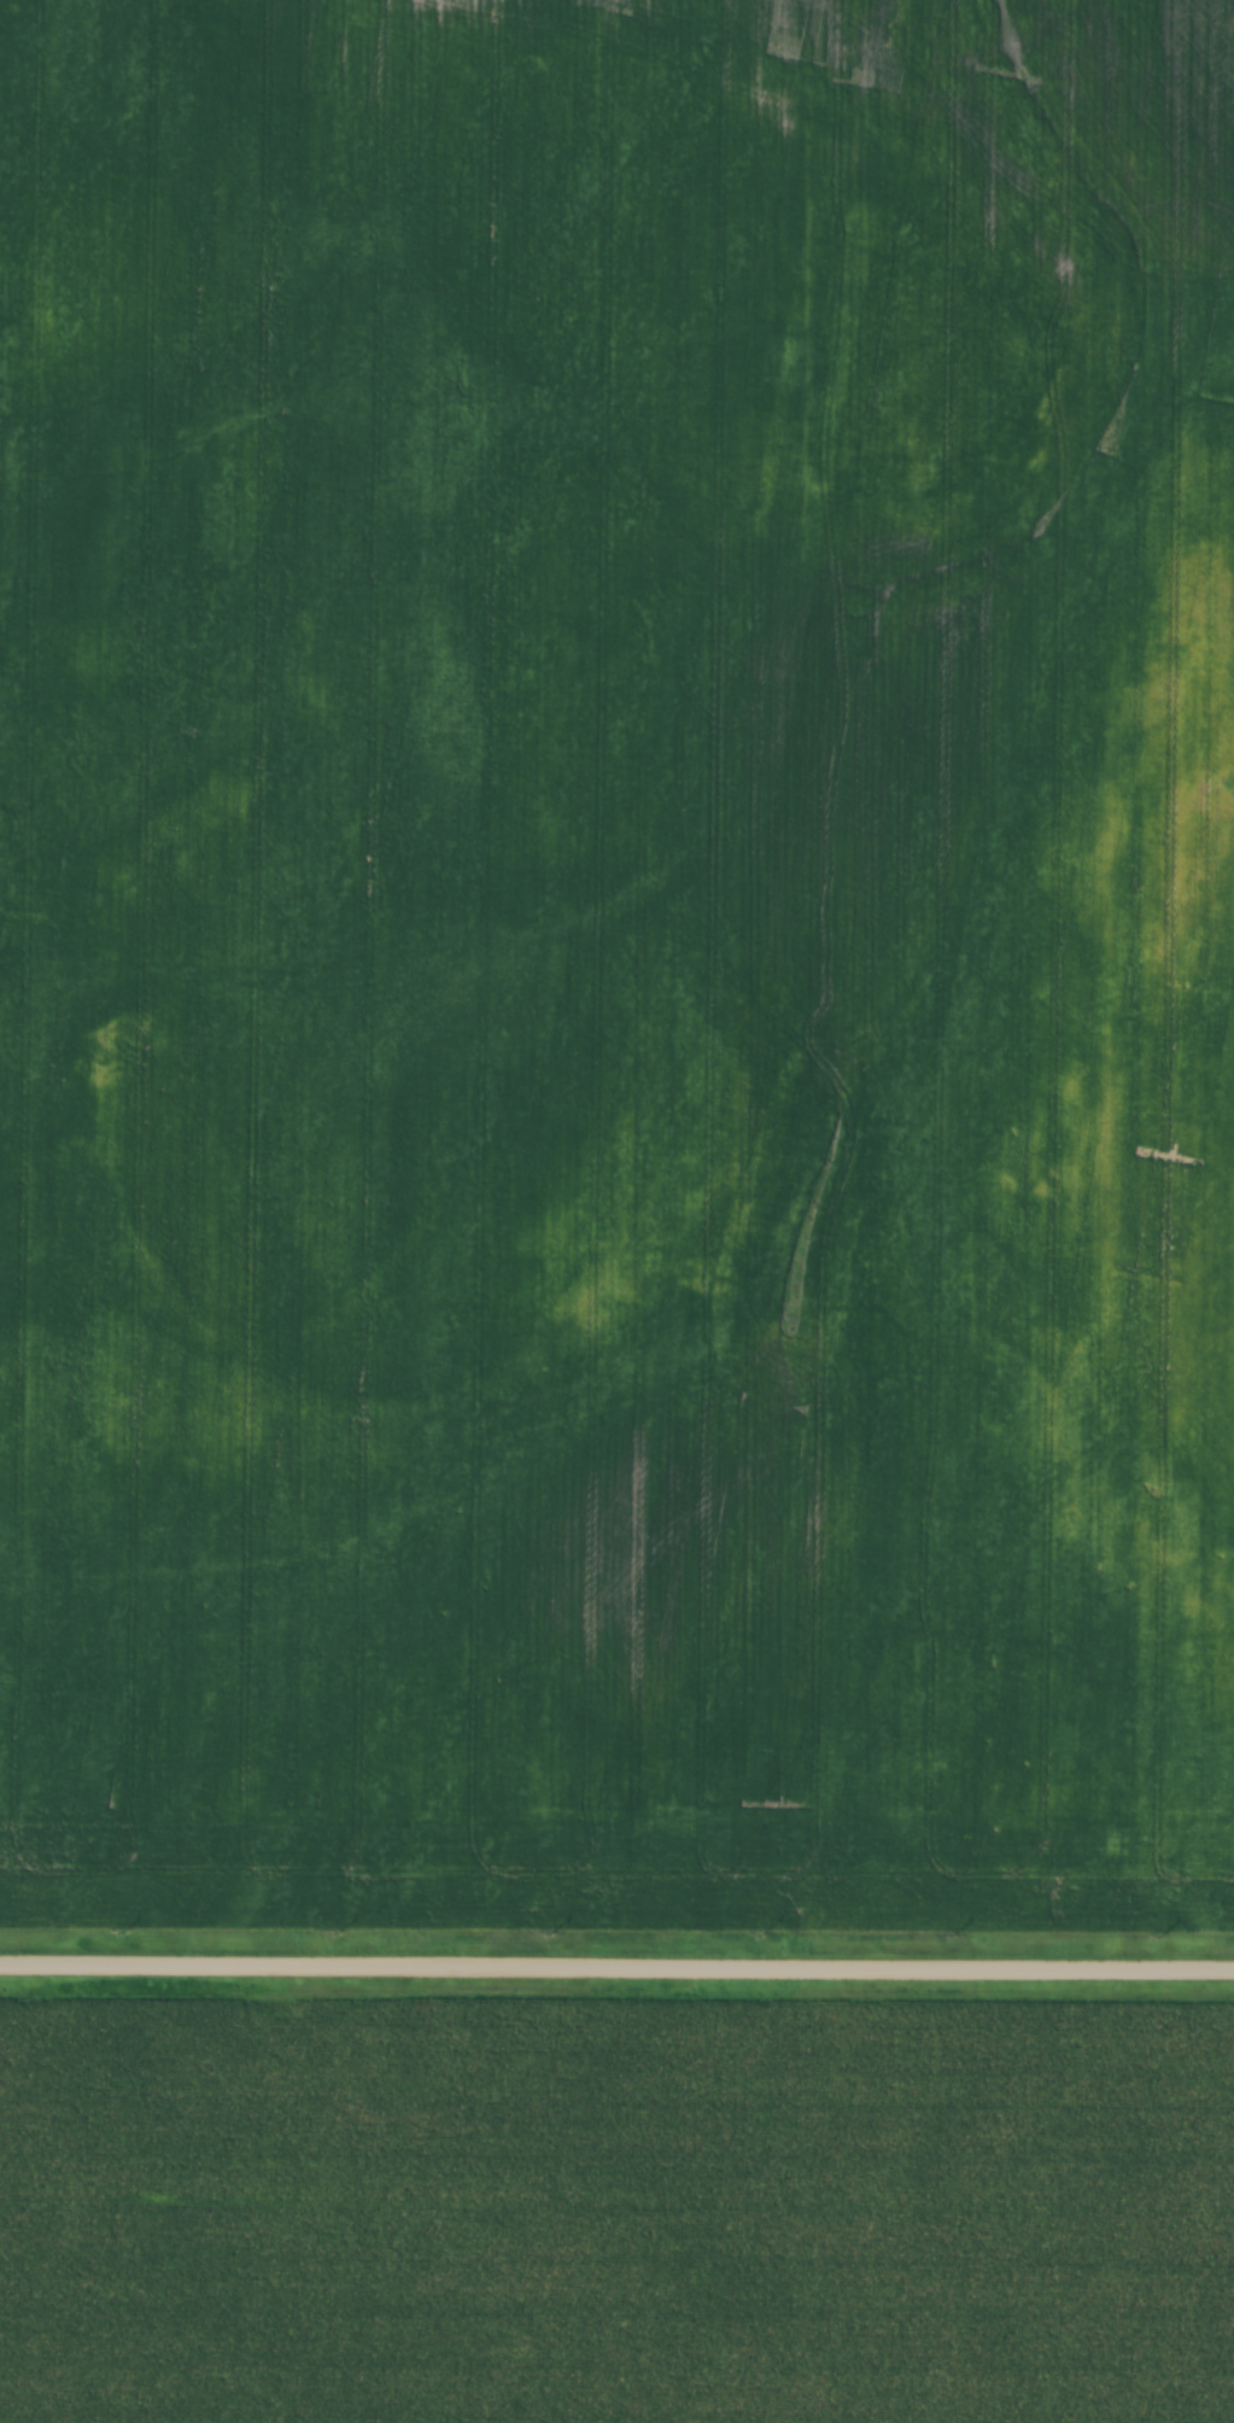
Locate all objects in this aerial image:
road: (616, 1970)

